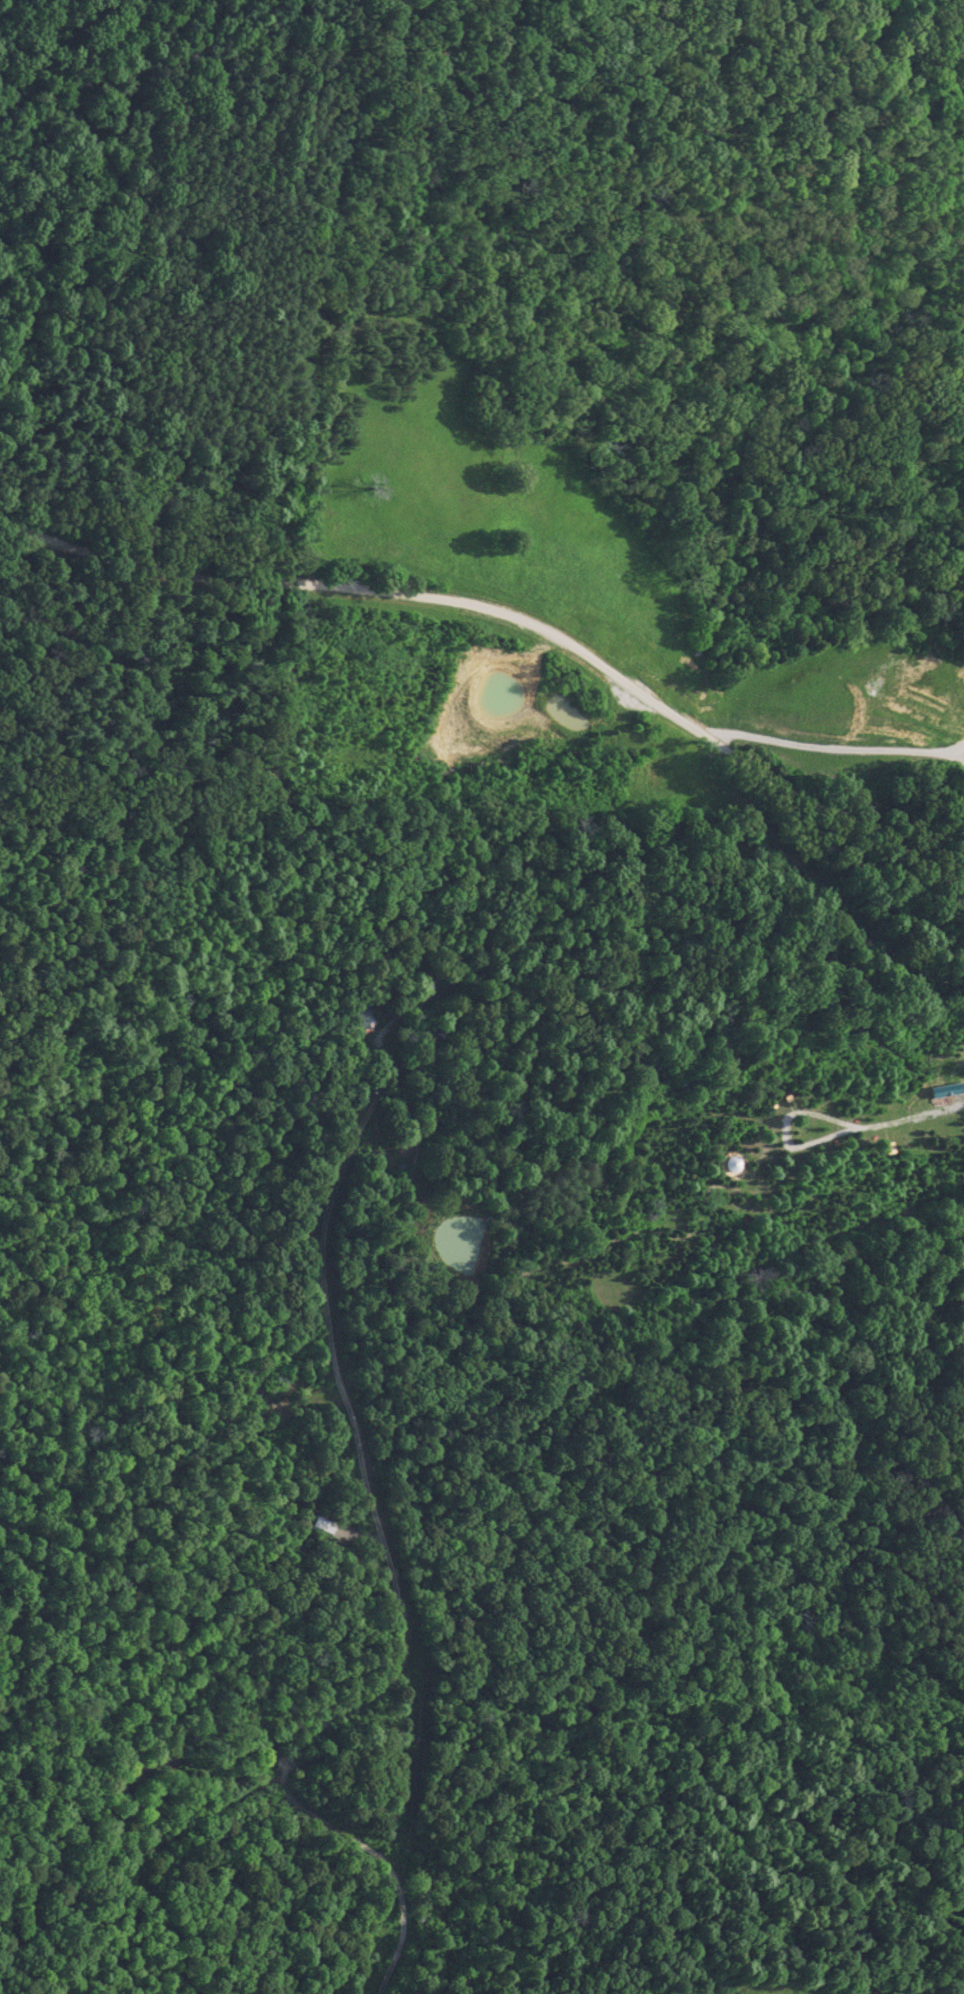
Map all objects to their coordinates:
road: (138, 52)
road: (508, 617)
building: (315, 1526)
road: (381, 1864)

